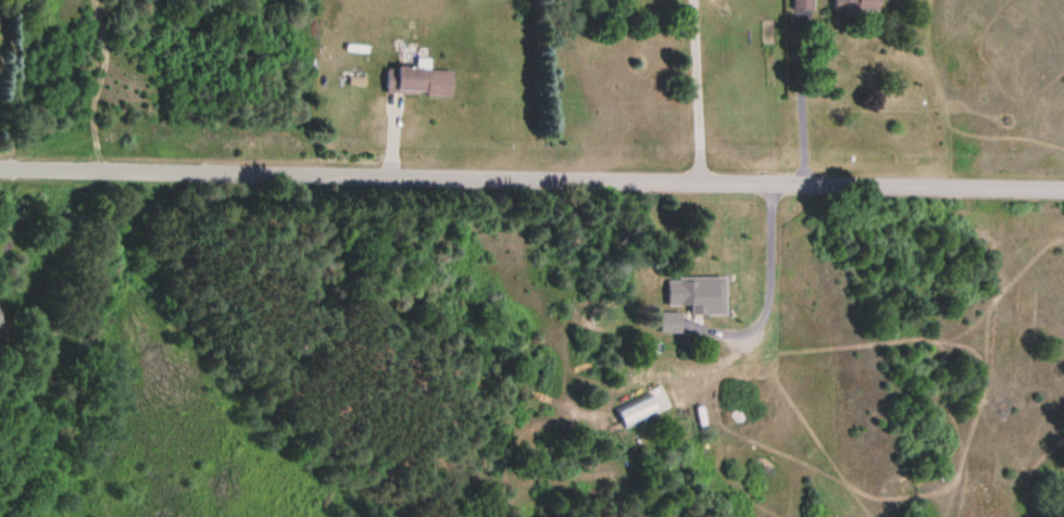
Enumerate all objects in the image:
building: (801, 3)
building: (853, 4)
building: (418, 81)
road: (531, 175)
building: (681, 289)
building: (668, 319)
building: (0, 325)

